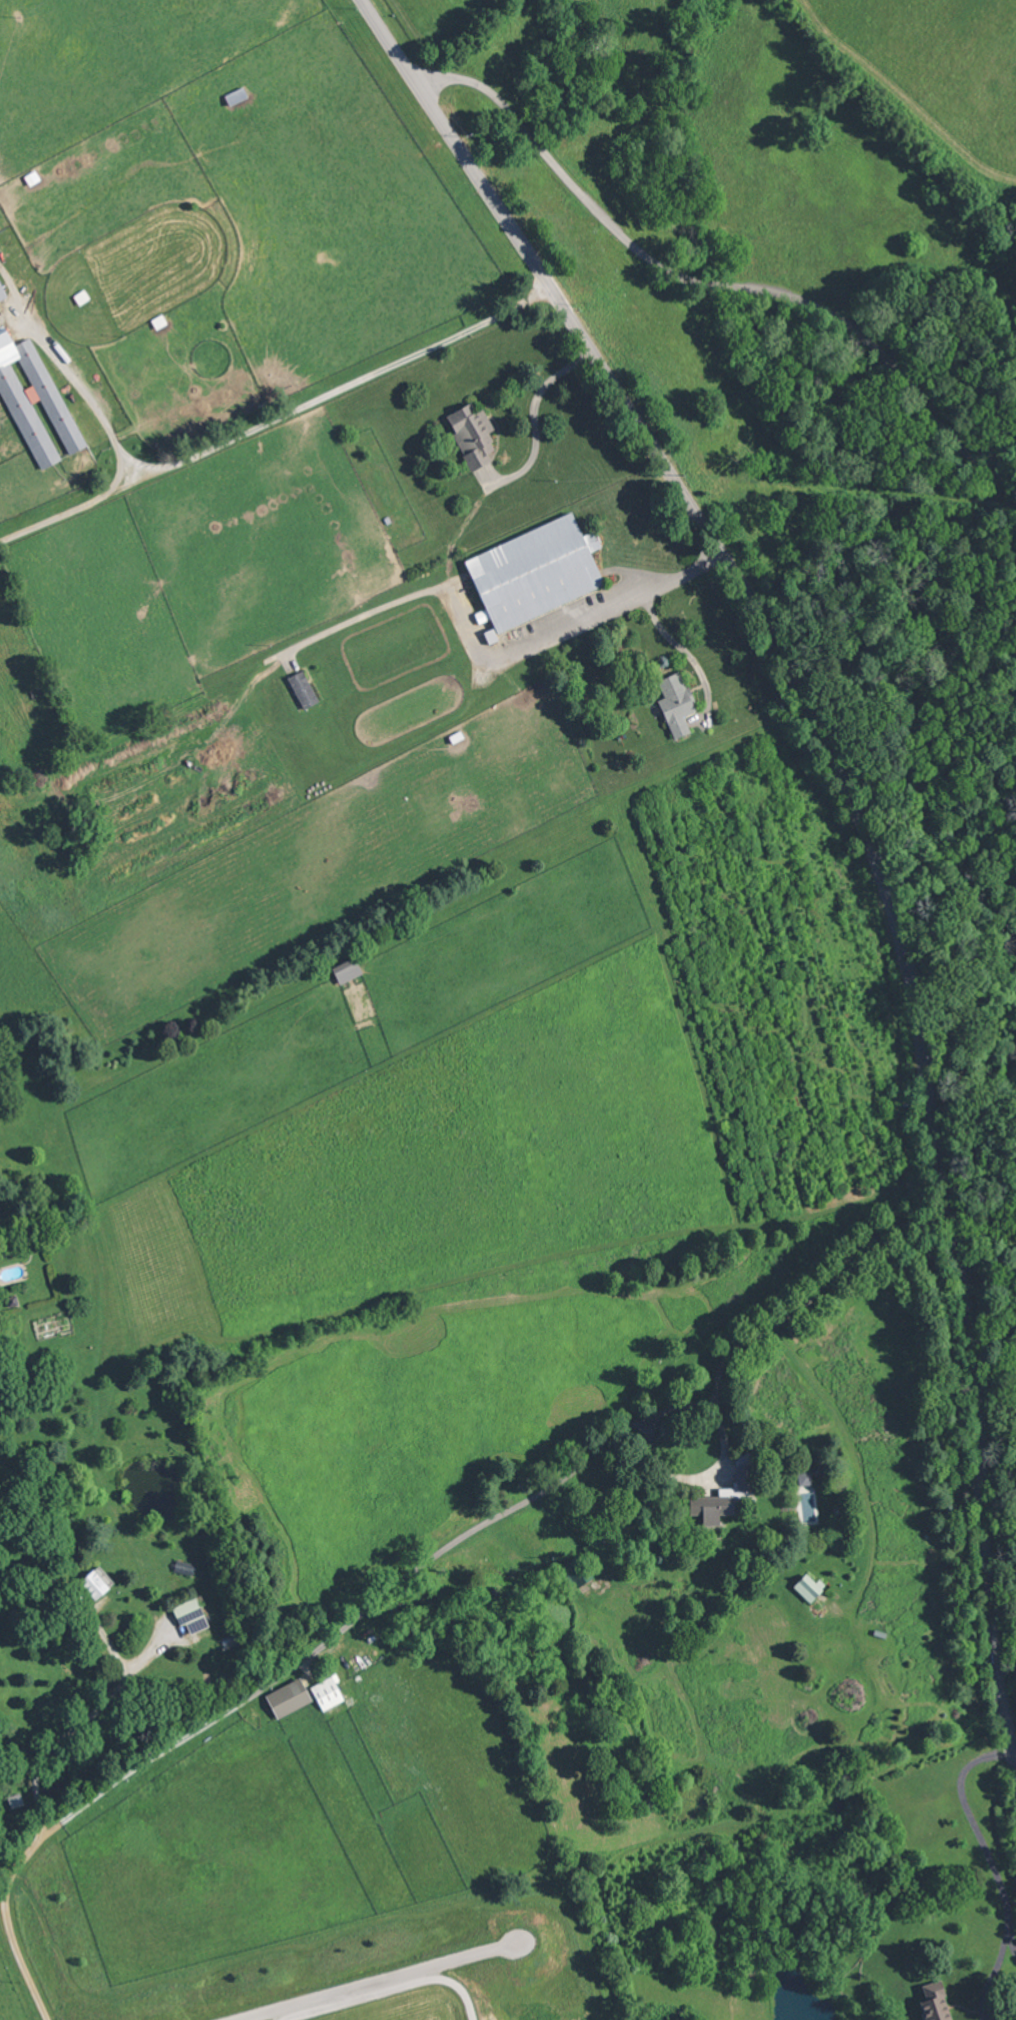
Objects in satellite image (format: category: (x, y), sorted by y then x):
road: (710, 284)
building: (1, 293)
building: (30, 397)
road: (90, 400)
road: (277, 421)
road: (528, 428)
building: (467, 434)
building: (528, 573)
road: (684, 650)
road: (490, 660)
building: (298, 689)
building: (671, 703)
road: (864, 824)
building: (343, 971)
building: (737, 1477)
building: (800, 1477)
building: (703, 1506)
road: (472, 1527)
building: (89, 1581)
building: (802, 1586)
building: (185, 1615)
building: (322, 1692)
building: (283, 1697)
road: (976, 1828)
road: (1012, 1943)
road: (15, 1950)
road: (990, 1976)
building: (928, 2002)

